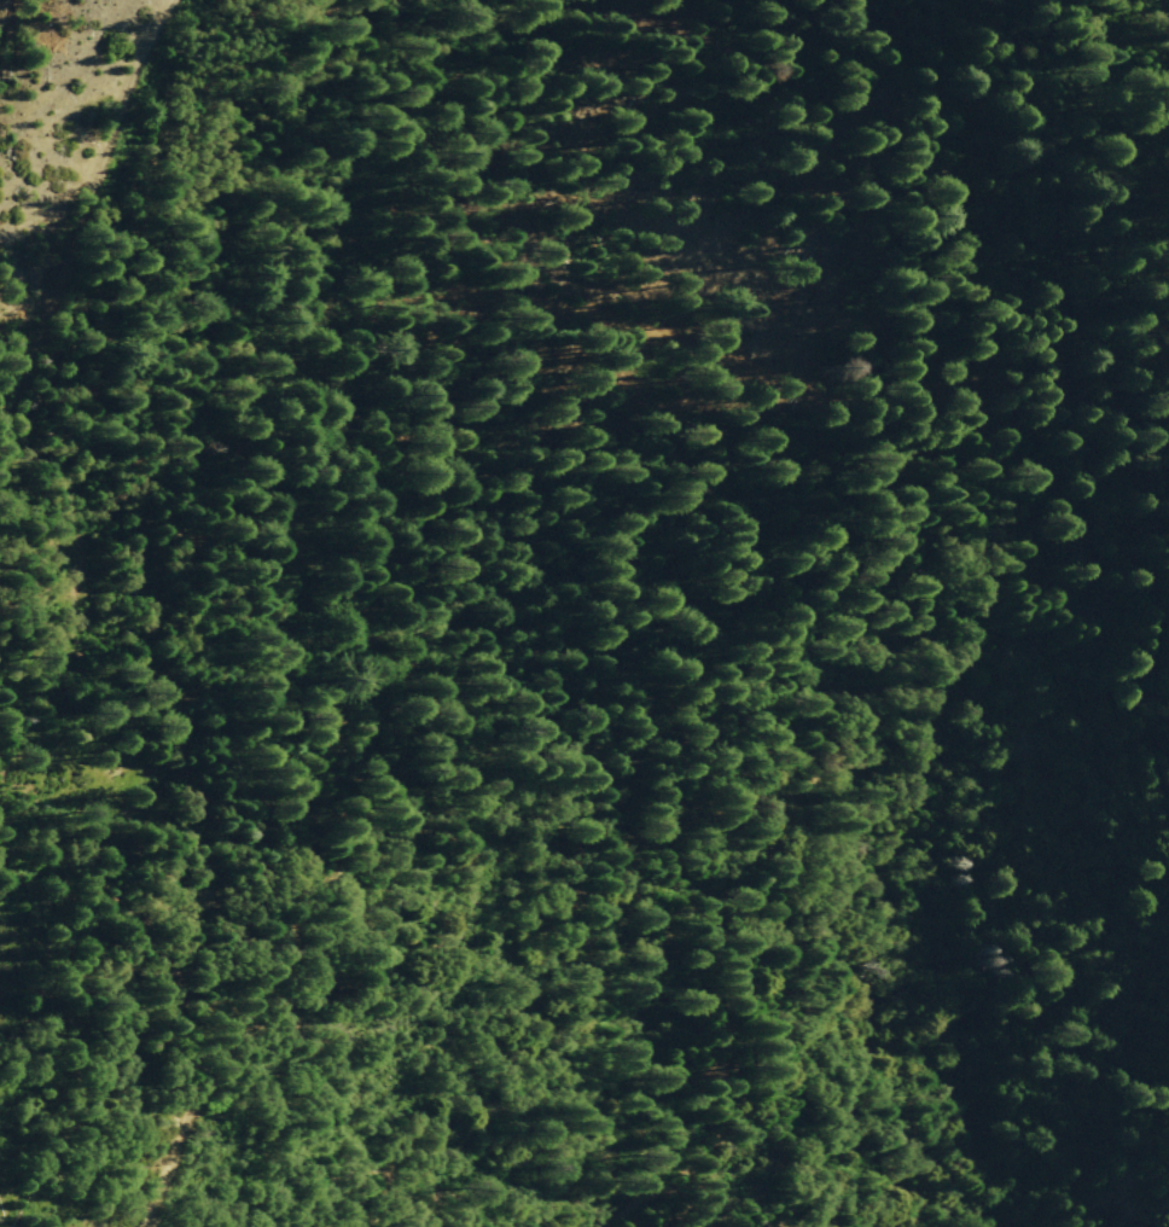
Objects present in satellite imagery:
road: (89, 223)
road: (1002, 431)
road: (373, 549)
road: (622, 726)

